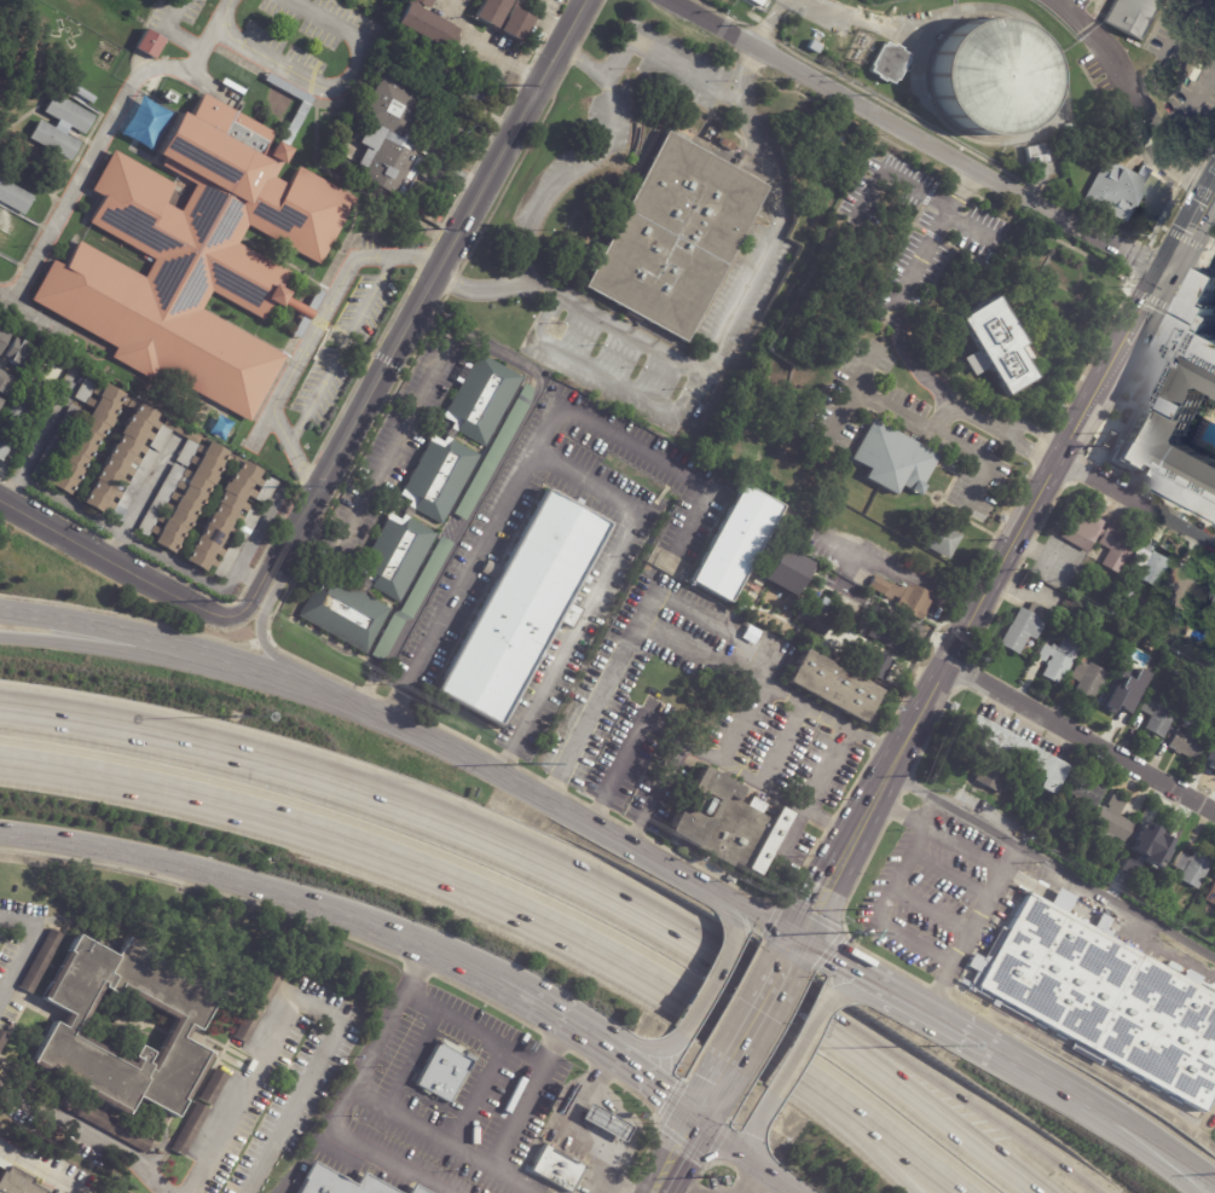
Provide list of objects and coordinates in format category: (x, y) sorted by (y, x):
building: (352, 0)
road: (777, 5)
road: (1072, 12)
building: (1133, 16)
building: (502, 18)
road: (544, 22)
road: (879, 22)
building: (423, 24)
road: (765, 29)
road: (170, 33)
parking lot: (287, 39)
building: (150, 45)
road: (487, 46)
building: (814, 47)
road: (1161, 47)
building: (890, 62)
road: (683, 63)
building: (989, 74)
storage tank: (989, 74)
road: (335, 86)
building: (83, 95)
building: (478, 95)
road: (1057, 98)
road: (1186, 103)
road: (1140, 115)
building: (147, 124)
building: (60, 128)
road: (104, 129)
building: (388, 137)
road: (913, 137)
building: (725, 144)
road: (1052, 154)
building: (1036, 155)
road: (899, 175)
road: (549, 190)
road: (1031, 191)
building: (1115, 191)
building: (15, 197)
building: (8, 222)
road: (968, 225)
building: (675, 237)
building: (198, 260)
road: (1185, 272)
traffic signals: (1159, 273)
road: (434, 274)
road: (1209, 285)
road: (903, 289)
road: (728, 322)
building: (2, 336)
road: (313, 337)
building: (995, 347)
parking lot: (345, 348)
road: (341, 349)
building: (15, 352)
road: (609, 377)
building: (5, 383)
road: (851, 392)
building: (0, 399)
building: (1179, 416)
road: (942, 418)
road: (979, 418)
building: (11, 425)
road: (1038, 432)
road: (39, 434)
road: (941, 435)
road: (394, 447)
road: (1029, 448)
road: (649, 453)
building: (893, 461)
road: (583, 476)
building: (187, 479)
road: (141, 498)
road: (1138, 499)
road: (478, 502)
building: (415, 510)
building: (1002, 520)
building: (453, 525)
building: (1081, 529)
building: (939, 540)
building: (734, 545)
building: (1116, 549)
road: (1006, 554)
road: (114, 561)
road: (172, 561)
building: (1152, 564)
road: (847, 569)
road: (249, 575)
building: (773, 578)
building: (799, 581)
road: (259, 586)
building: (1182, 589)
building: (1209, 592)
road: (661, 593)
building: (1129, 596)
building: (903, 597)
building: (781, 606)
building: (825, 606)
building: (521, 607)
building: (1211, 613)
building: (1136, 616)
building: (1176, 618)
building: (812, 621)
building: (1149, 624)
building: (1024, 627)
building: (1159, 631)
road: (262, 632)
building: (1142, 632)
building: (886, 635)
road: (102, 647)
road: (700, 651)
building: (869, 661)
building: (1055, 665)
building: (1211, 666)
building: (1088, 681)
building: (832, 689)
building: (1122, 700)
building: (954, 706)
building: (1158, 712)
road: (374, 713)
road: (828, 718)
building: (1190, 719)
road: (1082, 736)
road: (782, 745)
building: (1186, 745)
road: (695, 746)
building: (1211, 747)
building: (1009, 749)
building: (1214, 768)
building: (988, 775)
building: (1086, 790)
road: (655, 792)
road: (809, 793)
building: (1065, 807)
road: (421, 811)
building: (1112, 821)
building: (729, 824)
road: (937, 835)
building: (1087, 839)
building: (1146, 846)
road: (406, 861)
road: (1049, 861)
building: (1192, 867)
road: (951, 874)
building: (1214, 875)
building: (1147, 880)
road: (204, 888)
road: (267, 892)
building: (1210, 894)
road: (932, 910)
road: (730, 911)
road: (880, 913)
road: (758, 915)
road: (972, 927)
road: (22, 932)
traffic signals: (798, 937)
parking lot: (17, 944)
road: (791, 949)
building: (40, 961)
road: (841, 962)
road: (417, 968)
building: (91, 969)
road: (779, 973)
building: (177, 974)
building: (1185, 974)
road: (711, 985)
building: (265, 990)
road: (862, 991)
building: (1104, 1000)
road: (302, 1001)
road: (487, 1003)
road: (939, 1017)
road: (559, 1023)
building: (247, 1024)
road: (751, 1026)
road: (470, 1027)
building: (2, 1038)
road: (800, 1039)
road: (556, 1042)
road: (641, 1049)
building: (98, 1058)
road: (410, 1058)
road: (579, 1058)
building: (186, 1060)
road: (1025, 1067)
building: (444, 1071)
road: (601, 1072)
road: (648, 1085)
building: (212, 1087)
road: (474, 1093)
road: (959, 1093)
road: (523, 1094)
road: (714, 1095)
parking lot: (218, 1096)
road: (340, 1100)
road: (920, 1102)
road: (1092, 1104)
road: (652, 1111)
road: (876, 1119)
building: (104, 1123)
building: (604, 1123)
traffic signals: (700, 1123)
road: (847, 1124)
road: (754, 1128)
building: (189, 1129)
road: (573, 1130)
road: (93, 1131)
road: (441, 1139)
road: (682, 1142)
road: (1121, 1142)
road: (729, 1145)
road: (1170, 1151)
road: (682, 1158)
road: (722, 1163)
road: (41, 1164)
parking lot: (41, 1170)
building: (555, 1170)
road: (750, 1178)
road: (774, 1180)
building: (345, 1181)
road: (751, 1181)
road: (687, 1186)
building: (428, 1189)
road: (742, 1189)
building: (413, 1191)
building: (0, 1192)

